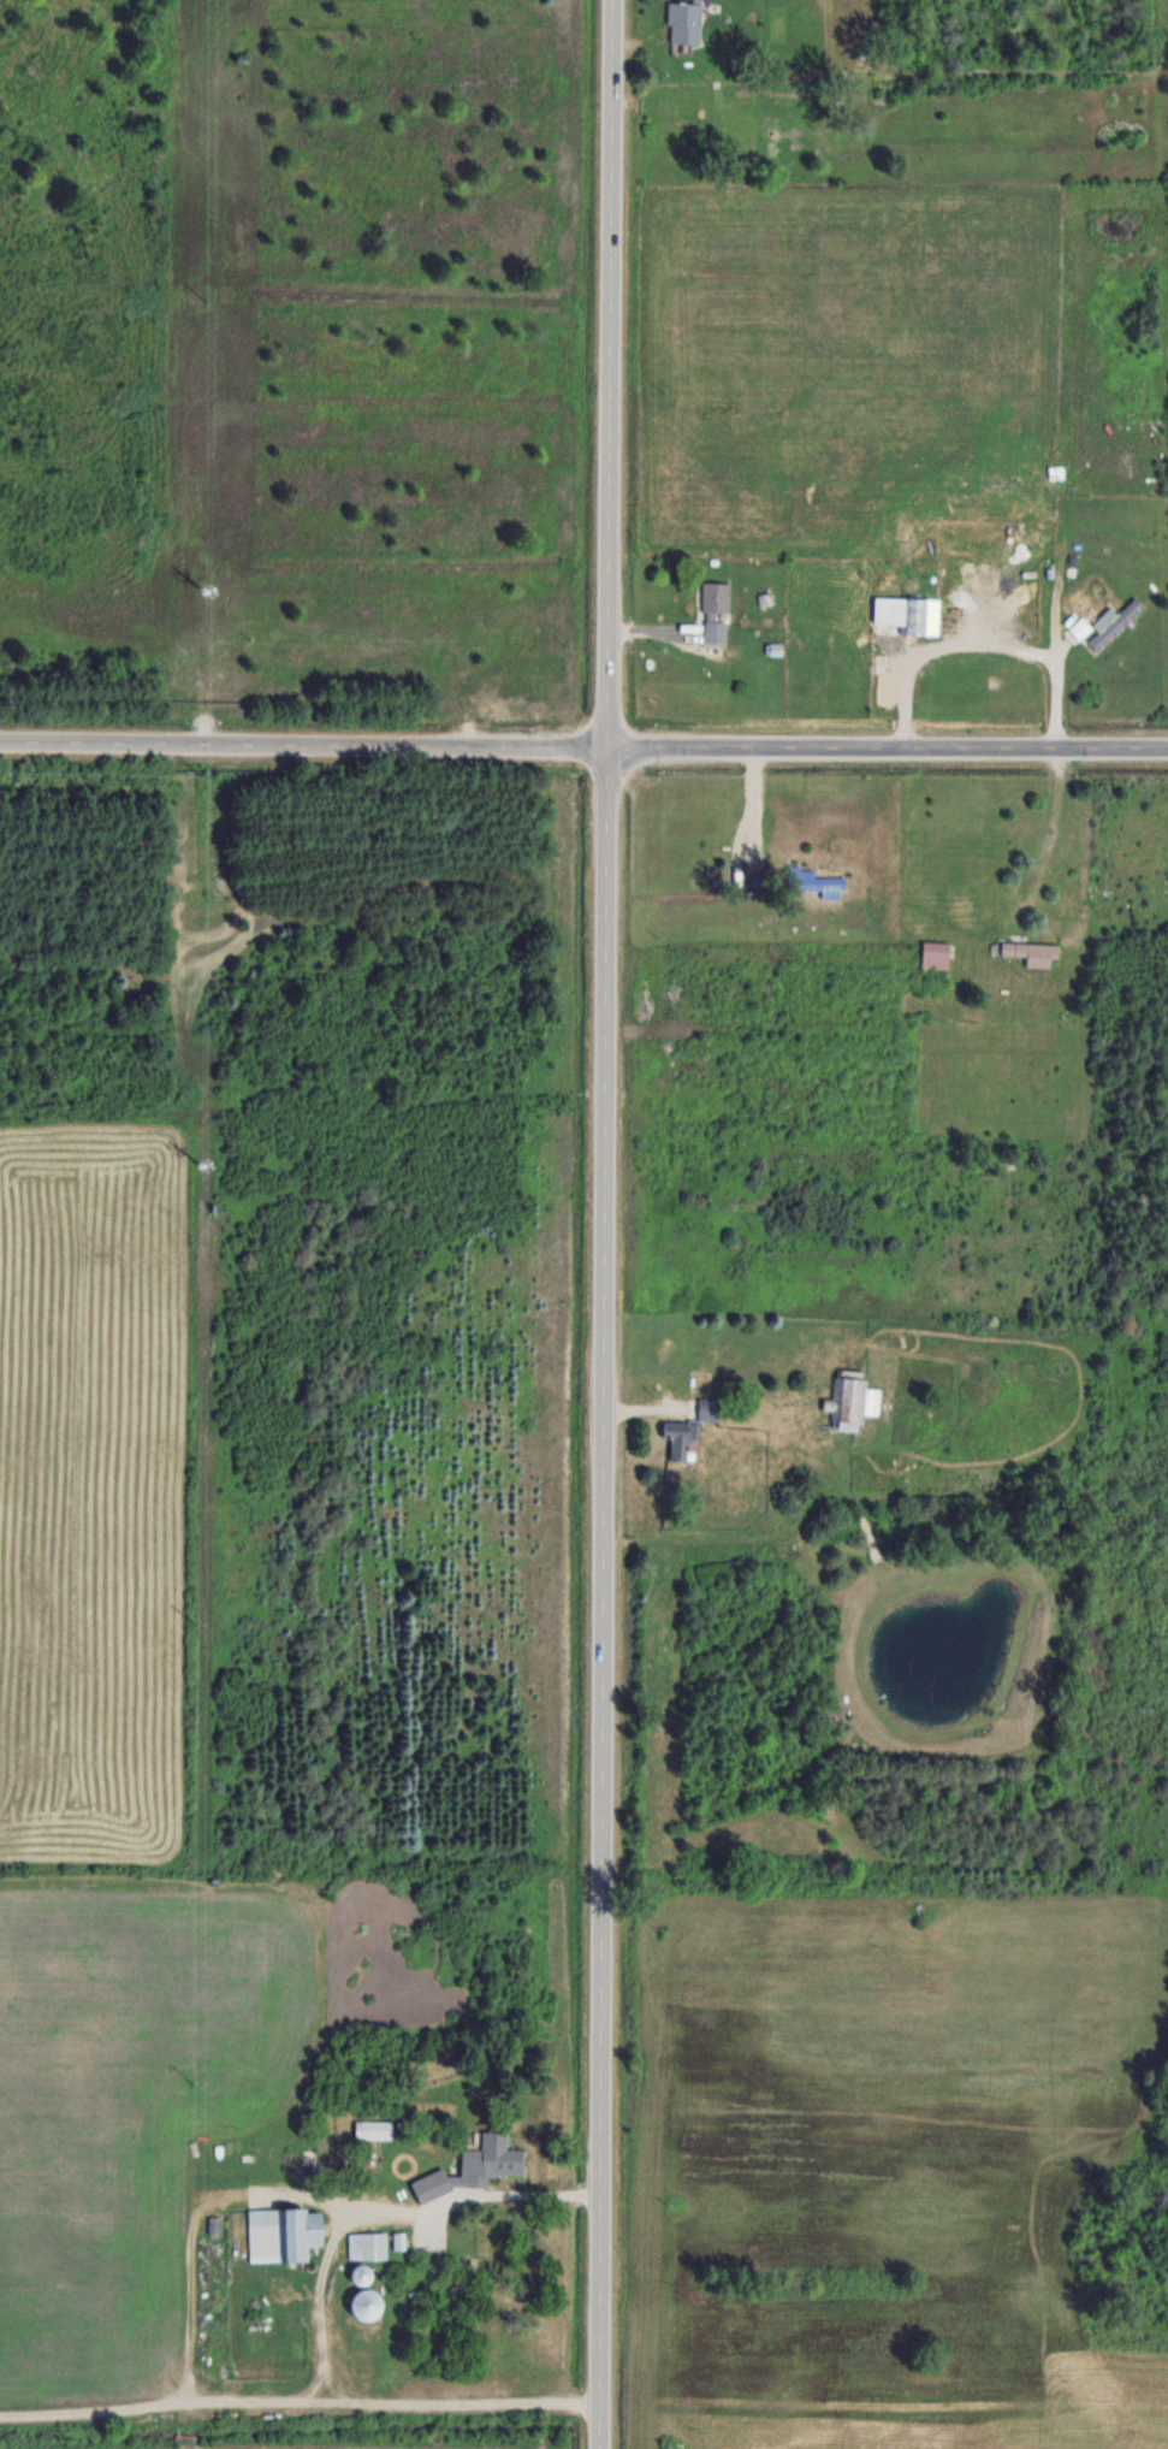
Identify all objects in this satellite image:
building: (683, 23)
power tower: (204, 582)
building: (715, 613)
building: (907, 614)
building: (1105, 625)
road: (302, 744)
road: (887, 747)
building: (812, 881)
building: (1031, 952)
building: (935, 954)
road: (604, 1224)
building: (852, 1401)
building: (707, 1408)
building: (678, 1437)
building: (373, 2129)
building: (473, 2167)
building: (281, 2234)
building: (366, 2246)
building: (362, 2302)

